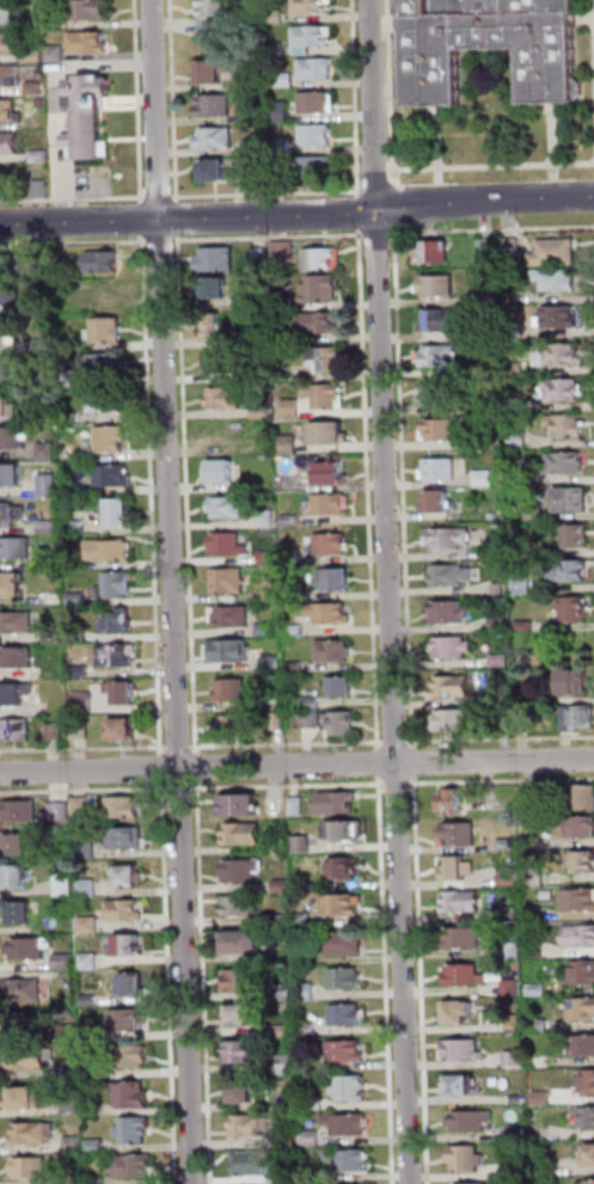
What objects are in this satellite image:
building: (314, 6)
building: (93, 11)
building: (7, 12)
building: (256, 16)
building: (277, 17)
building: (210, 20)
building: (57, 24)
building: (316, 37)
building: (91, 43)
building: (10, 45)
building: (491, 47)
building: (277, 50)
building: (306, 50)
building: (59, 54)
building: (37, 56)
building: (318, 70)
building: (216, 73)
building: (11, 76)
building: (287, 80)
building: (253, 84)
building: (37, 88)
road: (57, 96)
road: (359, 98)
road: (141, 100)
road: (176, 100)
building: (44, 103)
building: (319, 103)
building: (216, 106)
building: (8, 111)
building: (283, 111)
building: (257, 117)
building: (91, 118)
building: (319, 136)
building: (216, 140)
building: (10, 143)
building: (284, 147)
building: (256, 148)
building: (42, 158)
building: (320, 166)
building: (218, 173)
building: (256, 179)
building: (7, 180)
road: (372, 186)
building: (43, 190)
road: (269, 192)
road: (161, 197)
road: (541, 197)
road: (74, 198)
road: (435, 203)
traffic signals: (381, 211)
road: (362, 213)
road: (145, 219)
road: (179, 219)
road: (190, 219)
road: (399, 219)
road: (494, 231)
road: (379, 234)
road: (271, 238)
road: (163, 241)
road: (74, 243)
building: (490, 249)
building: (513, 249)
building: (287, 250)
building: (435, 253)
building: (557, 254)
building: (263, 257)
building: (324, 259)
building: (66, 260)
building: (218, 262)
building: (104, 263)
building: (8, 266)
building: (559, 281)
building: (440, 287)
building: (218, 289)
building: (323, 290)
building: (11, 295)
building: (490, 297)
building: (263, 302)
building: (286, 305)
building: (561, 318)
building: (445, 320)
building: (322, 325)
building: (215, 326)
building: (109, 331)
building: (515, 332)
building: (5, 333)
building: (491, 337)
building: (45, 345)
building: (559, 355)
building: (442, 357)
building: (327, 360)
building: (225, 362)
building: (104, 366)
building: (516, 369)
building: (494, 372)
building: (6, 373)
building: (71, 378)
building: (47, 382)
building: (565, 391)
building: (440, 394)
building: (327, 397)
building: (227, 400)
building: (106, 403)
building: (516, 406)
building: (293, 409)
building: (8, 410)
building: (264, 413)
building: (72, 419)
building: (569, 427)
building: (255, 431)
building: (445, 431)
building: (225, 434)
building: (330, 435)
building: (16, 440)
building: (112, 440)
building: (521, 441)
building: (495, 442)
building: (289, 446)
building: (49, 453)
building: (74, 454)
building: (565, 465)
building: (442, 471)
building: (223, 474)
building: (335, 476)
building: (115, 477)
building: (11, 478)
building: (486, 479)
building: (519, 480)
building: (50, 486)
road: (406, 489)
building: (75, 490)
road: (371, 490)
road: (154, 496)
road: (189, 496)
building: (574, 502)
building: (439, 503)
building: (333, 505)
building: (229, 509)
building: (118, 514)
building: (538, 514)
building: (11, 516)
building: (495, 516)
building: (269, 520)
building: (293, 522)
building: (51, 528)
building: (78, 528)
building: (580, 538)
building: (451, 540)
building: (330, 545)
building: (229, 546)
building: (17, 548)
building: (110, 551)
building: (492, 553)
building: (270, 558)
building: (294, 558)
building: (570, 573)
building: (452, 576)
building: (229, 582)
building: (337, 582)
building: (525, 585)
building: (12, 587)
building: (117, 587)
building: (501, 589)
building: (270, 590)
road: (174, 591)
road: (391, 591)
building: (78, 601)
building: (576, 611)
building: (451, 613)
building: (331, 615)
building: (233, 618)
building: (17, 624)
building: (120, 625)
building: (502, 625)
building: (527, 627)
building: (268, 631)
building: (296, 631)
building: (76, 636)
building: (54, 638)
building: (454, 648)
building: (335, 651)
building: (229, 652)
building: (118, 657)
building: (19, 660)
building: (502, 662)
building: (272, 664)
building: (296, 668)
building: (81, 673)
building: (576, 685)
building: (453, 687)
building: (343, 689)
building: (233, 692)
building: (16, 695)
building: (123, 695)
building: (526, 698)
building: (84, 704)
building: (313, 704)
building: (580, 719)
building: (313, 720)
building: (455, 720)
building: (280, 722)
building: (508, 722)
building: (343, 724)
building: (239, 726)
building: (18, 731)
building: (56, 732)
building: (81, 732)
building: (122, 732)
road: (501, 738)
road: (397, 741)
road: (288, 743)
road: (179, 747)
road: (84, 748)
road: (416, 762)
road: (381, 763)
road: (296, 765)
road: (163, 768)
road: (200, 768)
road: (502, 780)
road: (399, 784)
road: (290, 785)
road: (180, 787)
road: (85, 790)
building: (584, 798)
building: (453, 803)
building: (337, 805)
building: (84, 806)
building: (241, 808)
building: (298, 808)
building: (124, 809)
building: (22, 811)
building: (61, 811)
building: (581, 828)
building: (347, 832)
building: (63, 833)
building: (246, 835)
building: (459, 835)
building: (128, 840)
building: (533, 843)
building: (302, 845)
building: (508, 846)
building: (281, 847)
building: (22, 848)
building: (87, 851)
building: (582, 863)
building: (459, 869)
building: (243, 871)
building: (345, 871)
building: (509, 871)
building: (535, 878)
building: (18, 879)
building: (128, 879)
building: (509, 881)
building: (65, 883)
building: (284, 885)
building: (90, 888)
building: (578, 900)
building: (464, 902)
building: (245, 907)
building: (342, 907)
building: (22, 913)
building: (124, 913)
building: (512, 914)
building: (534, 914)
building: (305, 919)
building: (282, 920)
building: (90, 926)
building: (581, 937)
building: (465, 938)
building: (244, 944)
building: (345, 946)
building: (32, 949)
building: (128, 949)
building: (513, 950)
building: (66, 963)
building: (91, 963)
building: (466, 975)
building: (583, 975)
road: (422, 979)
building: (246, 980)
building: (347, 980)
road: (171, 981)
road: (387, 981)
road: (206, 982)
building: (133, 986)
building: (514, 989)
building: (27, 990)
building: (539, 990)
building: (286, 992)
building: (307, 992)
building: (91, 1000)
building: (583, 1010)
building: (460, 1013)
building: (349, 1017)
building: (241, 1018)
building: (128, 1023)
building: (516, 1024)
building: (24, 1025)
building: (540, 1026)
building: (308, 1029)
building: (287, 1031)
building: (71, 1035)
building: (96, 1035)
building: (581, 1047)
building: (347, 1050)
building: (463, 1051)
building: (245, 1054)
building: (130, 1057)
building: (515, 1059)
building: (27, 1060)
building: (543, 1062)
building: (286, 1063)
building: (71, 1072)
building: (588, 1084)
building: (464, 1087)
building: (350, 1090)
building: (244, 1092)
building: (135, 1098)
building: (544, 1098)
building: (24, 1099)
building: (519, 1099)
building: (316, 1104)
building: (289, 1105)
building: (73, 1106)
building: (588, 1117)
building: (472, 1122)
building: (348, 1124)
building: (251, 1125)
building: (134, 1131)
building: (35, 1133)
building: (519, 1133)
building: (313, 1139)
building: (538, 1139)
building: (290, 1141)
building: (75, 1145)
building: (97, 1146)
building: (592, 1157)
building: (350, 1160)
building: (467, 1160)
building: (251, 1165)
building: (31, 1167)
building: (131, 1167)
building: (544, 1171)
building: (520, 1172)
building: (290, 1177)
building: (74, 1179)
building: (97, 1182)
building: (470, 1183)
building: (588, 1183)

